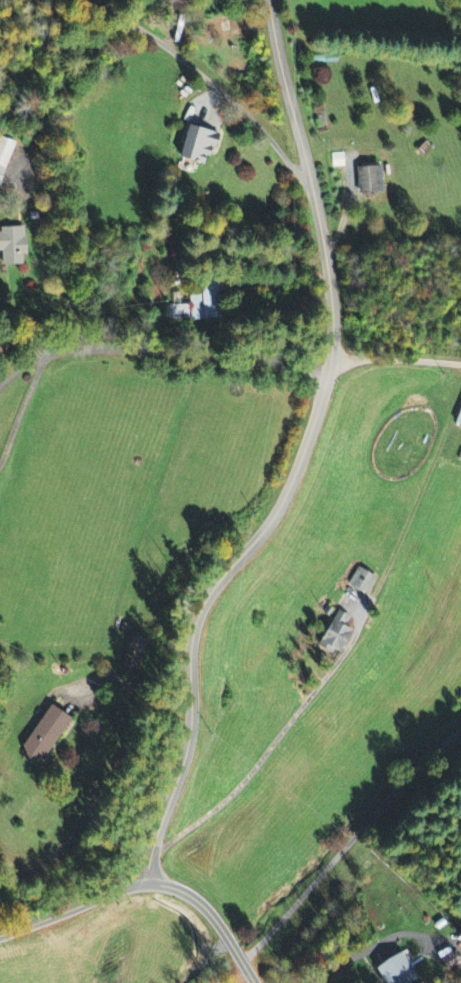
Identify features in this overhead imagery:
building: (171, 1)
building: (203, 146)
building: (4, 157)
building: (373, 181)
building: (14, 247)
building: (200, 307)
road: (160, 354)
road: (396, 359)
road: (23, 407)
building: (460, 426)
road: (301, 459)
building: (360, 582)
building: (333, 634)
building: (131, 654)
building: (40, 735)
road: (347, 843)
road: (147, 885)
building: (391, 970)
road: (238, 975)

